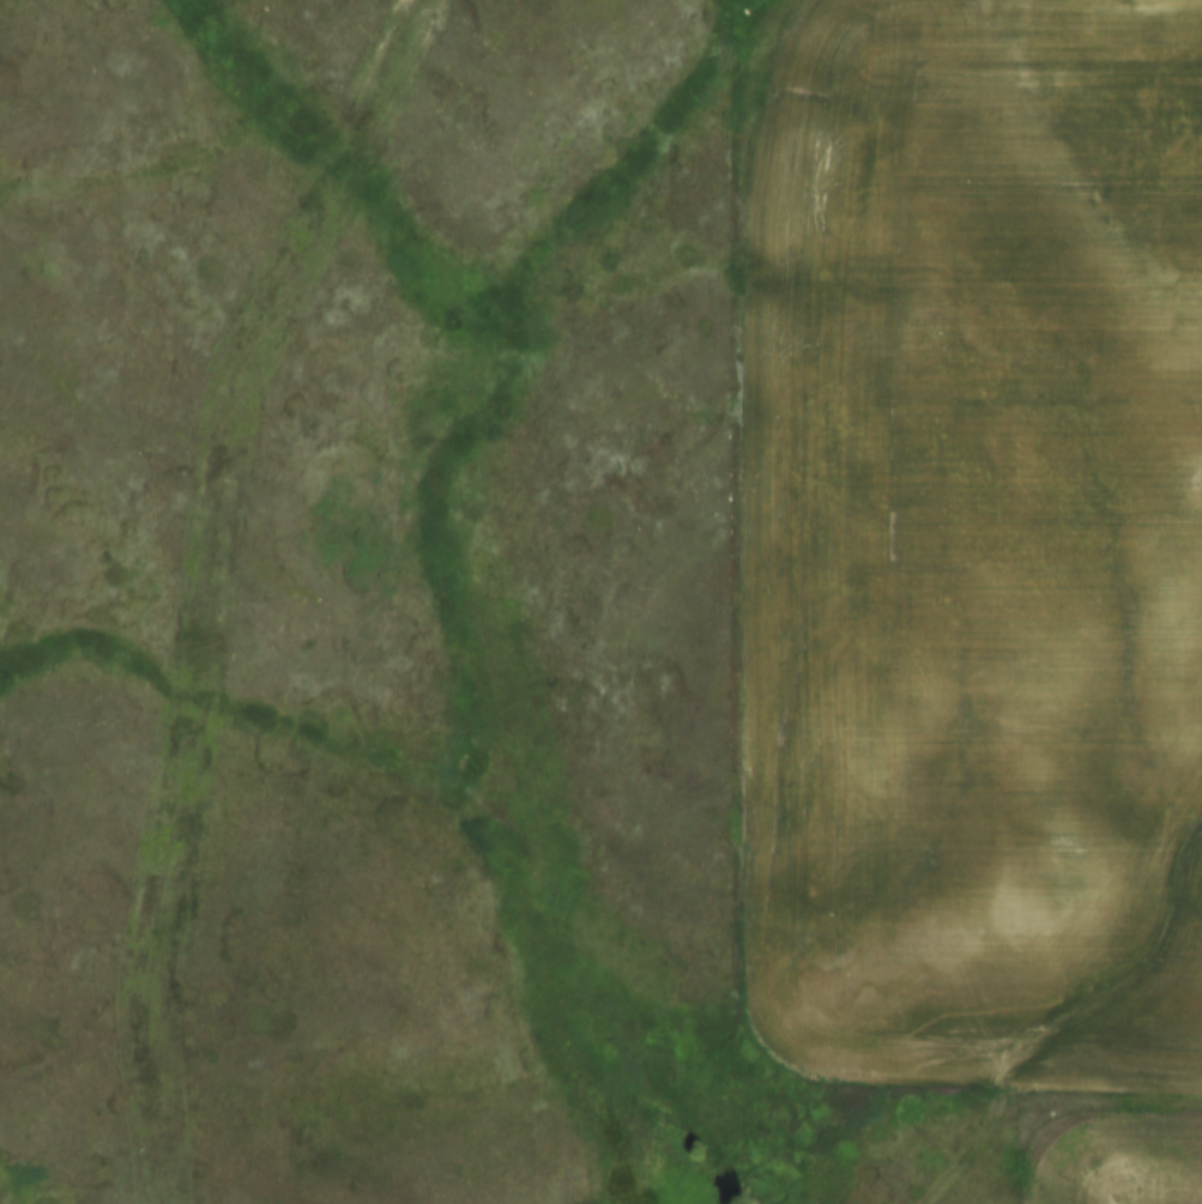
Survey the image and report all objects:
road: (1037, 1094)

